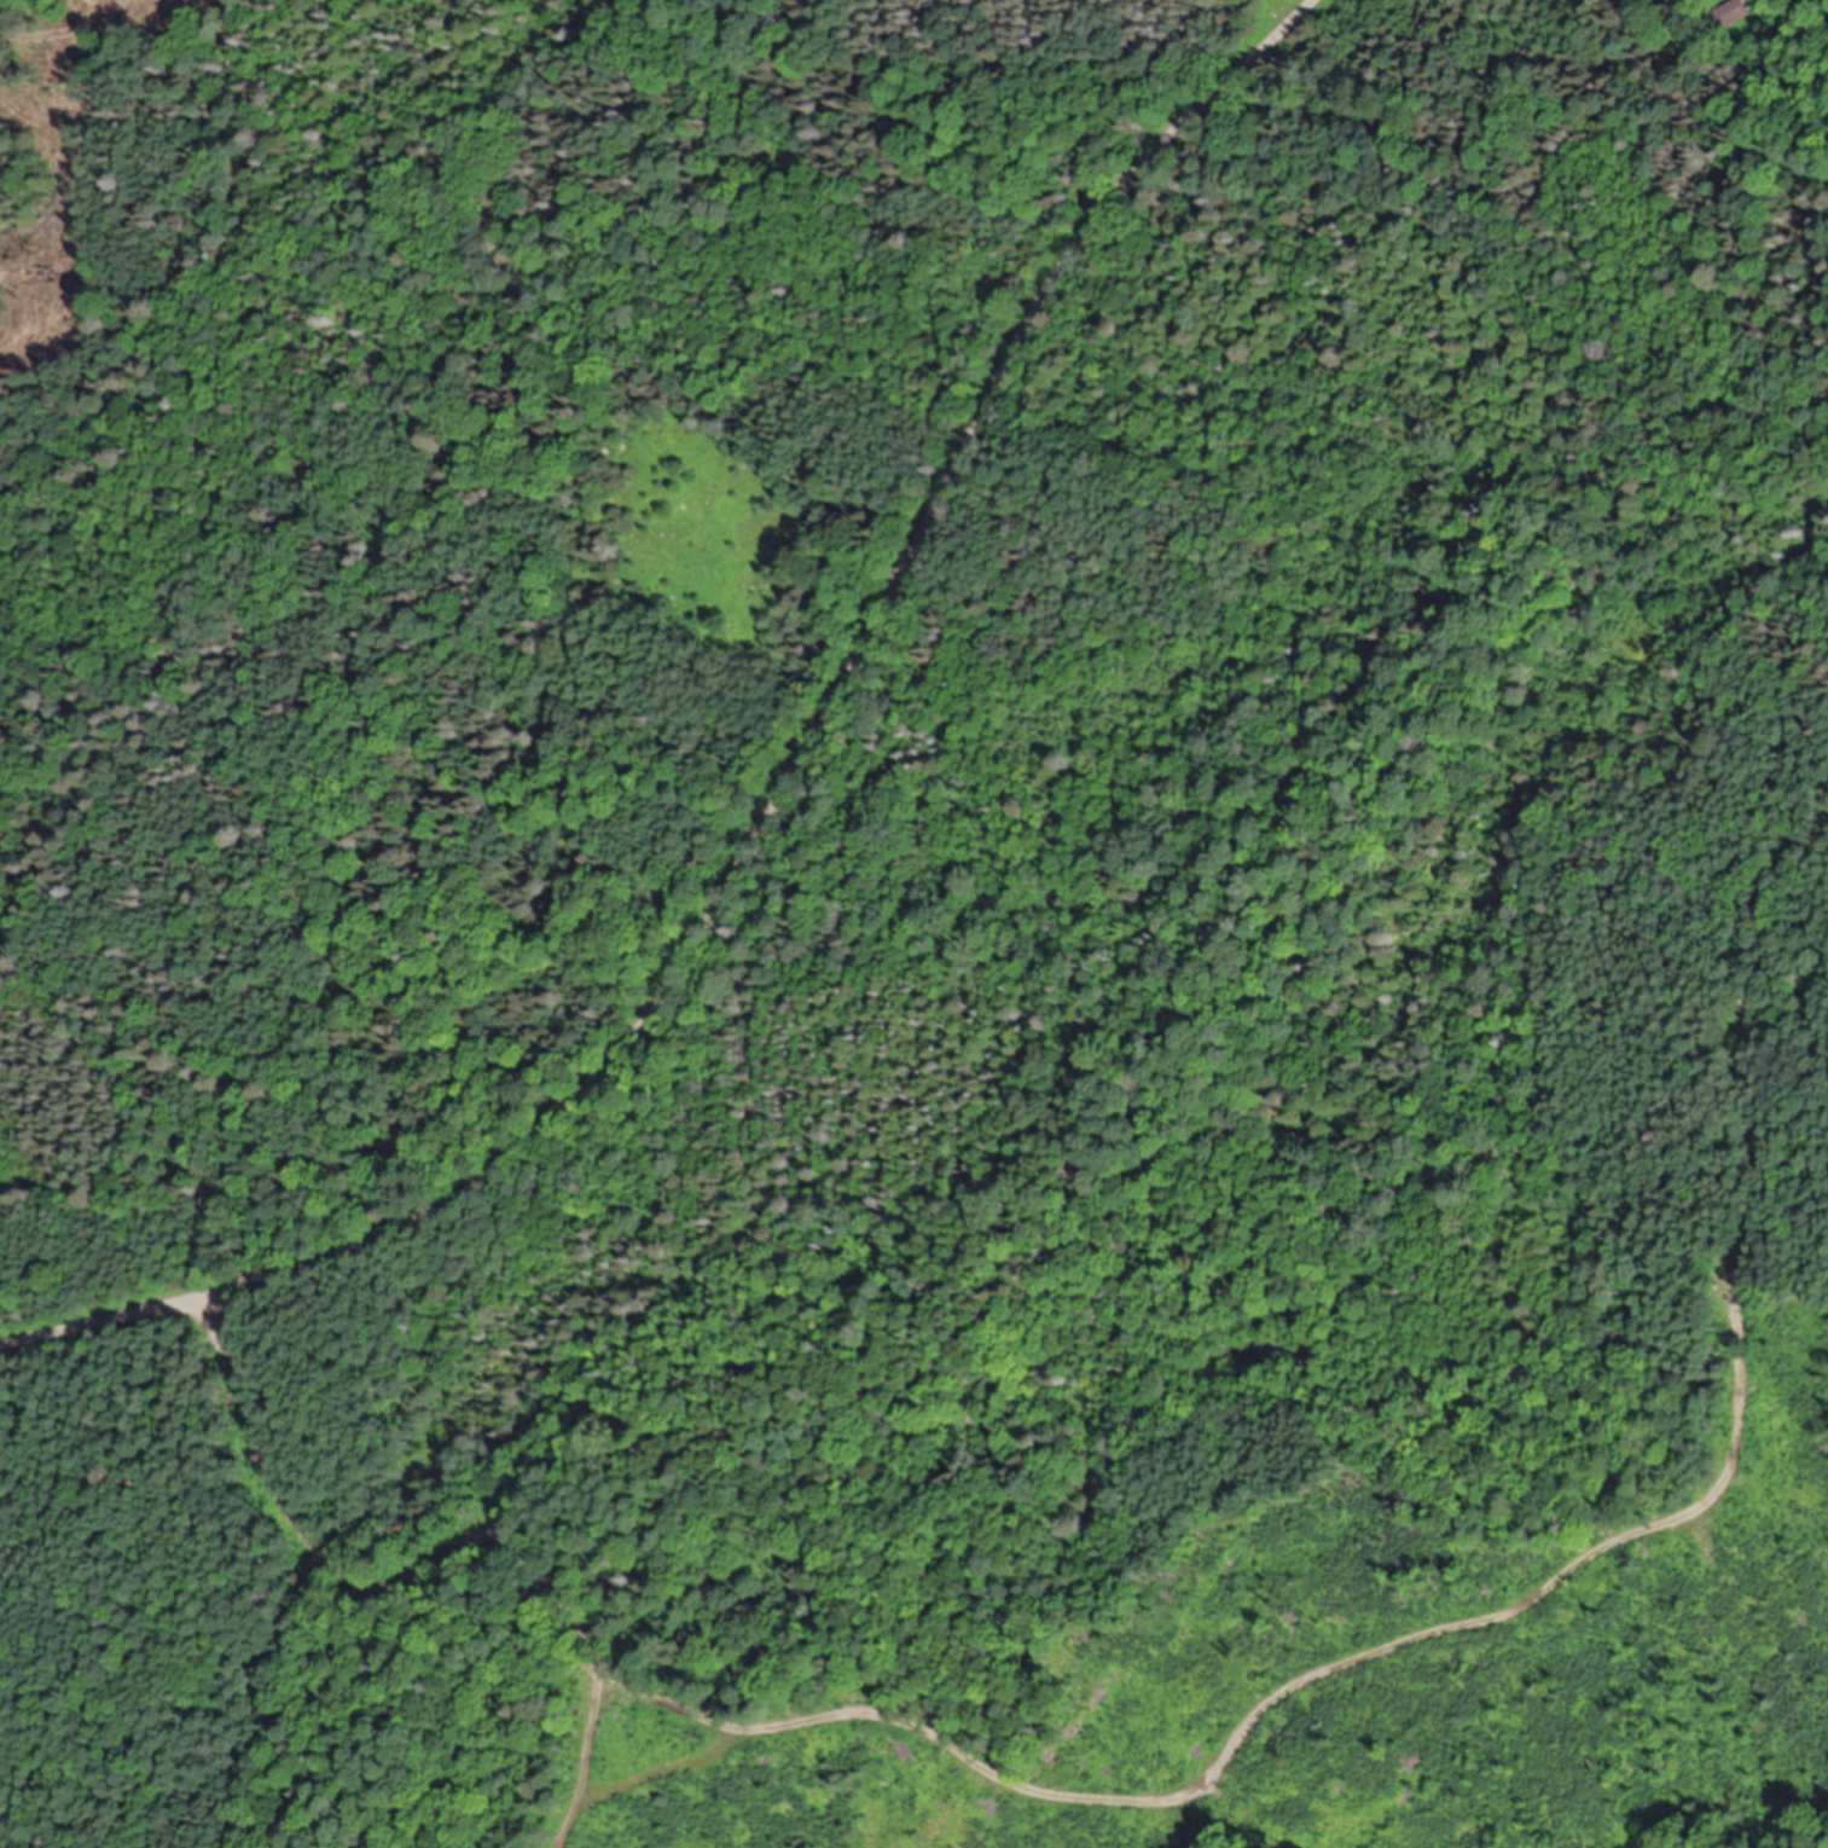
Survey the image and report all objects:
building: (1740, 12)
road: (776, 813)
road: (588, 1738)
road: (1230, 1745)
road: (648, 1777)

